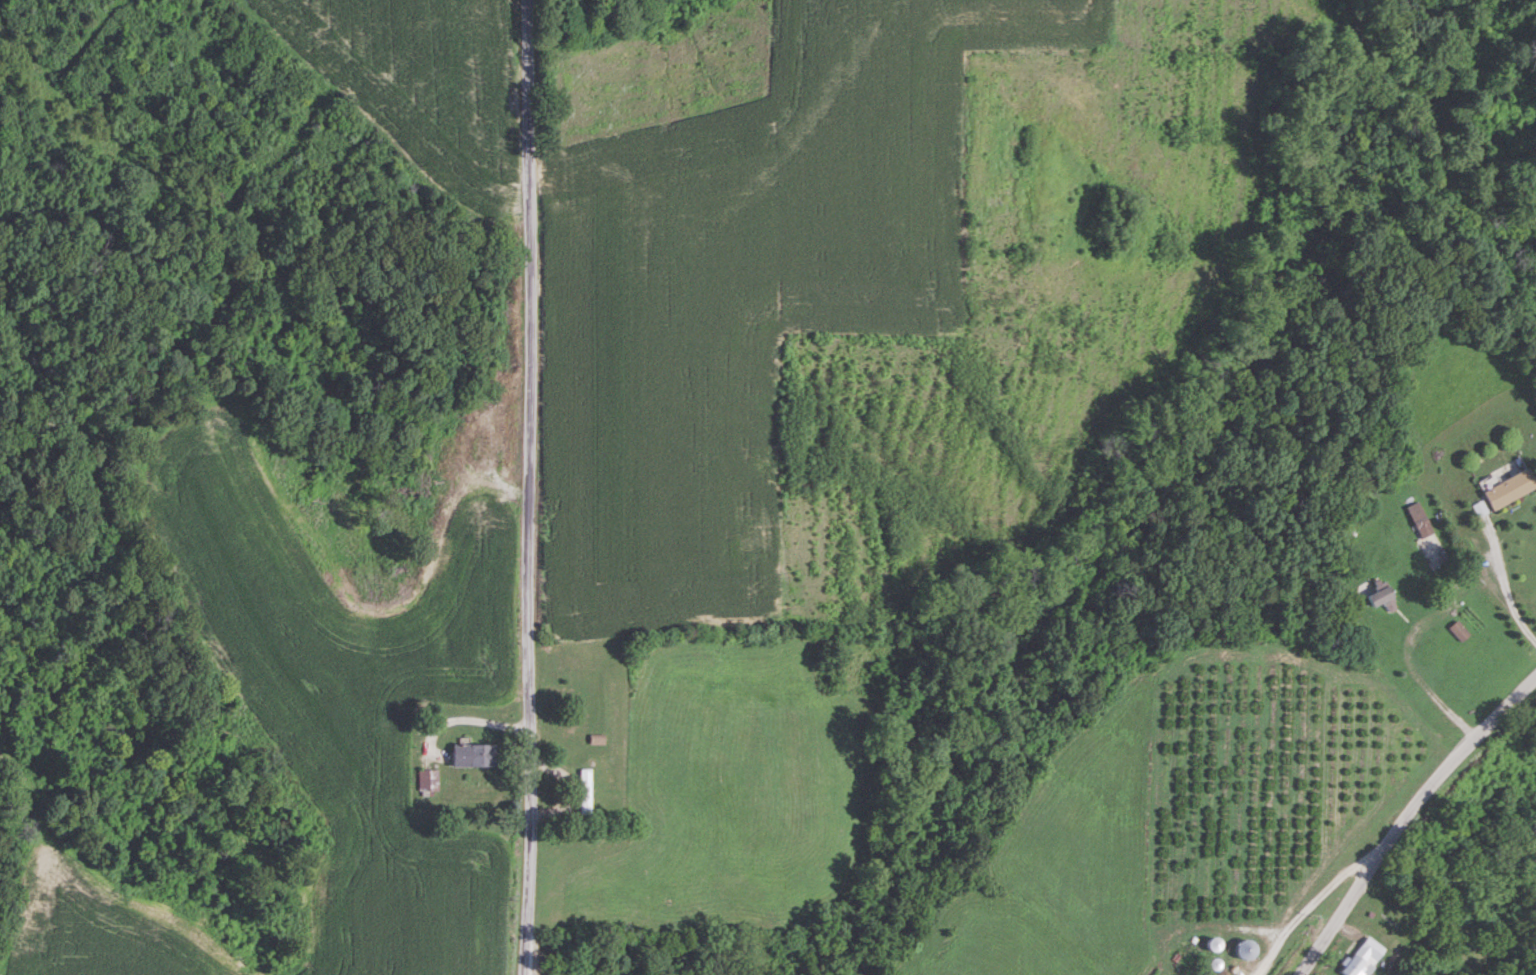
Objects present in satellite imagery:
crop: (435, 79)
crop: (872, 287)
road: (527, 487)
building: (1511, 488)
building: (1421, 519)
road: (1506, 581)
building: (1381, 596)
building: (1460, 630)
road: (1425, 683)
road: (463, 716)
building: (474, 755)
building: (429, 780)
building: (586, 791)
road: (1405, 816)
road: (1307, 908)
building: (1244, 949)
building: (1363, 958)
building: (1208, 974)

